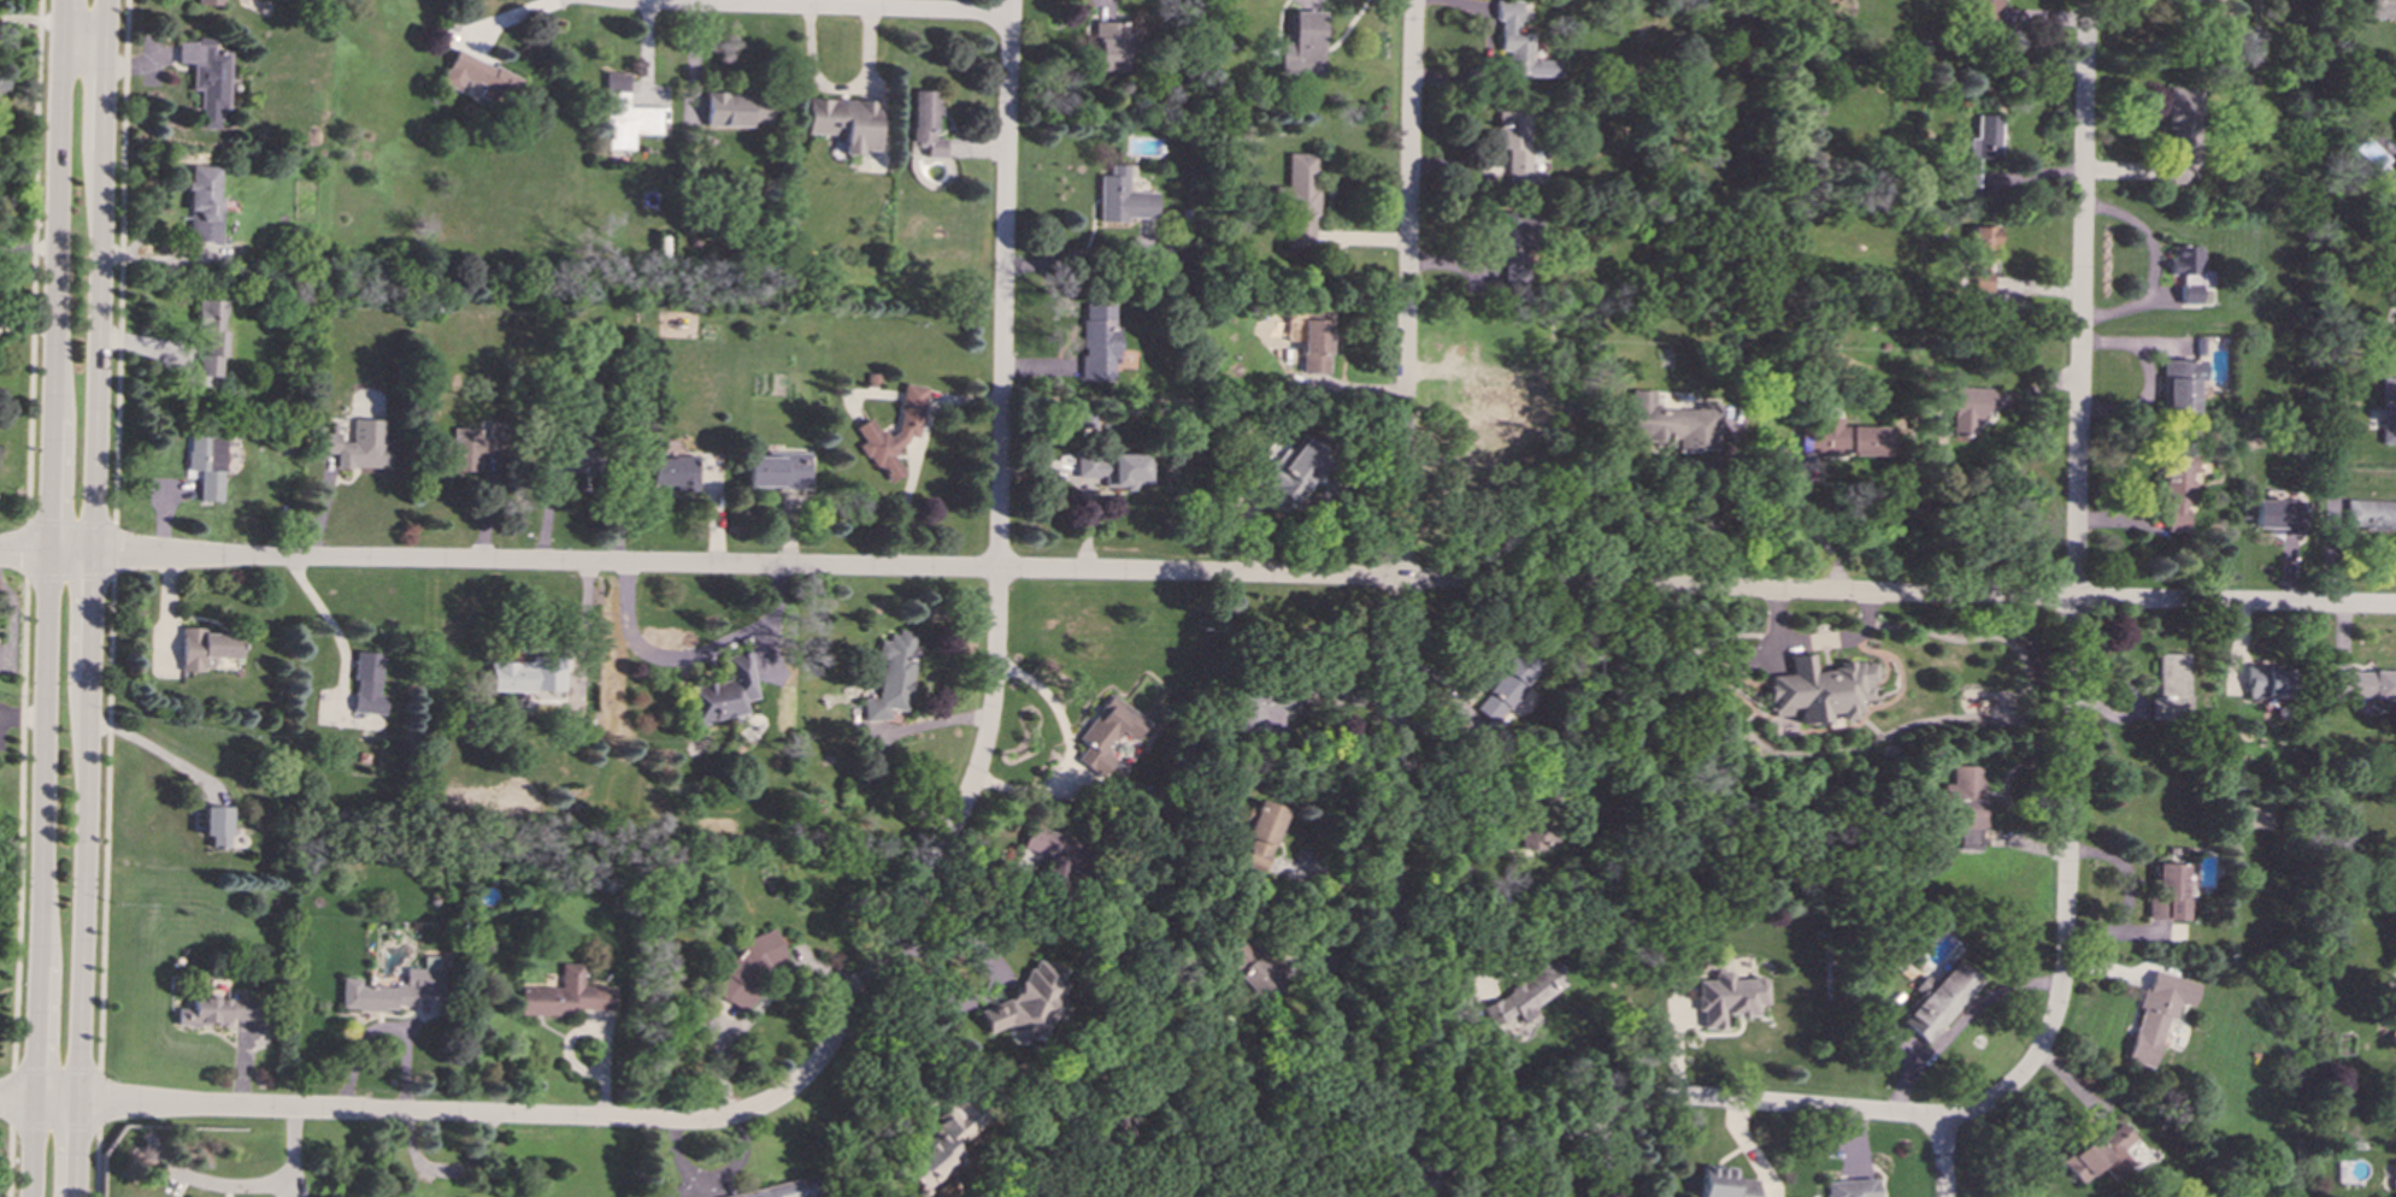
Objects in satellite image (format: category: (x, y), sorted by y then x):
building: (208, 1)
road: (652, 1)
road: (748, 2)
road: (807, 7)
building: (2383, 8)
building: (1983, 12)
road: (31, 20)
building: (1519, 42)
building: (1303, 43)
building: (1109, 46)
building: (206, 76)
building: (478, 76)
building: (735, 108)
building: (625, 114)
building: (843, 122)
building: (925, 123)
building: (2179, 130)
building: (1517, 146)
building: (1979, 148)
building: (2373, 153)
building: (1123, 197)
building: (1302, 199)
building: (204, 204)
building: (1146, 224)
building: (1511, 246)
road: (34, 260)
road: (120, 260)
building: (1977, 261)
building: (2185, 271)
building: (211, 338)
building: (1097, 342)
building: (1314, 346)
building: (1489, 383)
building: (2178, 383)
building: (1967, 408)
building: (2388, 409)
building: (1672, 423)
building: (891, 432)
building: (1841, 438)
building: (359, 444)
building: (475, 446)
road: (916, 450)
building: (569, 454)
building: (206, 465)
building: (1113, 468)
building: (776, 470)
building: (1295, 470)
building: (672, 472)
building: (2174, 490)
road: (1708, 497)
building: (2371, 514)
building: (2278, 515)
road: (39, 520)
road: (83, 520)
road: (1814, 527)
road: (27, 548)
road: (114, 549)
road: (1197, 572)
road: (70, 577)
road: (995, 583)
road: (1402, 583)
road: (2073, 591)
road: (48, 597)
road: (93, 598)
building: (206, 647)
road: (689, 654)
building: (891, 676)
building: (516, 677)
building: (2265, 682)
building: (366, 683)
building: (2363, 683)
building: (1507, 684)
building: (2168, 686)
building: (1818, 689)
building: (722, 691)
building: (1264, 706)
building: (1106, 732)
road: (160, 753)
building: (1966, 804)
road: (106, 822)
road: (20, 824)
road: (1490, 824)
building: (216, 825)
building: (2167, 890)
road: (2127, 891)
building: (2390, 904)
building: (749, 967)
building: (1252, 969)
building: (392, 987)
building: (1526, 991)
building: (564, 995)
building: (1729, 997)
building: (1939, 1000)
road: (757, 1006)
building: (216, 1010)
building: (2156, 1014)
road: (1959, 1022)
building: (2392, 1026)
road: (897, 1051)
road: (27, 1069)
road: (70, 1069)
road: (13, 1096)
road: (1664, 1097)
road: (100, 1098)
building: (2395, 1103)
road: (385, 1111)
road: (57, 1126)
building: (940, 1144)
road: (1315, 1146)
building: (2100, 1155)
road: (1608, 1157)
road: (1944, 1157)
road: (12, 1161)
road: (99, 1162)
road: (289, 1172)
building: (2392, 1174)
road: (1430, 1183)
building: (1724, 1183)
building: (1852, 1187)
building: (778, 1190)

